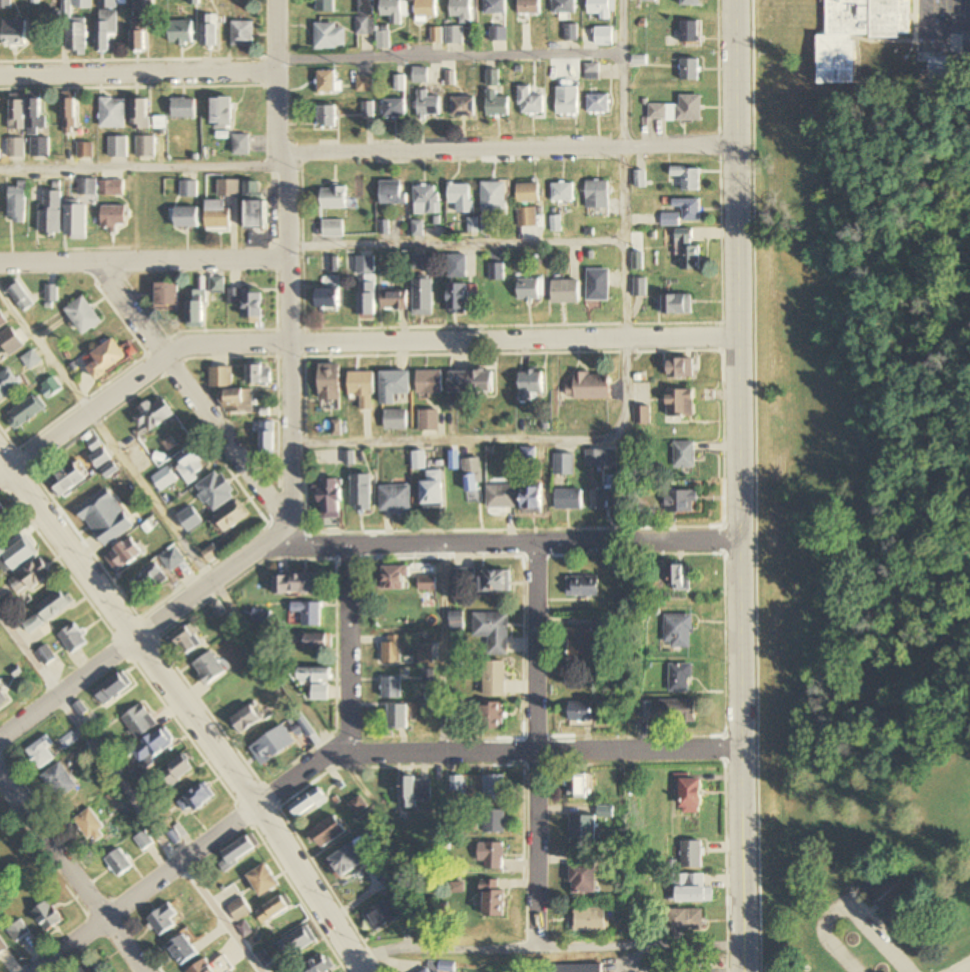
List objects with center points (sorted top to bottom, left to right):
building: (194, 1)
building: (690, 3)
building: (5, 4)
building: (108, 4)
building: (75, 6)
building: (325, 6)
building: (495, 7)
building: (529, 7)
building: (564, 7)
building: (427, 8)
building: (599, 9)
building: (394, 10)
building: (462, 10)
building: (365, 17)
building: (141, 26)
building: (106, 31)
building: (210, 31)
building: (14, 33)
building: (181, 33)
building: (571, 33)
building: (689, 33)
building: (242, 34)
building: (857, 34)
building: (454, 35)
building: (330, 37)
building: (603, 37)
building: (76, 39)
building: (382, 40)
road: (475, 56)
building: (689, 70)
building: (591, 72)
road: (138, 74)
building: (420, 75)
building: (328, 83)
building: (400, 83)
building: (364, 84)
building: (567, 100)
building: (530, 103)
building: (598, 104)
building: (497, 105)
building: (428, 106)
building: (463, 107)
building: (394, 108)
building: (183, 109)
building: (367, 110)
building: (677, 110)
building: (17, 112)
building: (69, 112)
building: (221, 113)
building: (113, 114)
building: (35, 115)
building: (141, 115)
building: (326, 117)
building: (241, 145)
building: (145, 147)
road: (506, 147)
building: (16, 148)
building: (40, 148)
building: (118, 148)
building: (85, 151)
road: (140, 169)
building: (688, 177)
building: (87, 187)
building: (111, 188)
building: (228, 188)
building: (189, 190)
building: (392, 192)
building: (563, 192)
building: (529, 193)
building: (598, 194)
building: (462, 197)
building: (494, 197)
building: (333, 198)
building: (427, 200)
building: (17, 204)
building: (688, 208)
building: (51, 213)
building: (256, 216)
building: (114, 217)
building: (186, 217)
building: (527, 218)
building: (218, 219)
building: (670, 219)
building: (76, 220)
building: (332, 229)
road: (547, 240)
building: (687, 252)
road: (142, 260)
building: (415, 261)
building: (456, 266)
building: (497, 272)
road: (285, 274)
building: (216, 285)
building: (366, 285)
building: (599, 285)
building: (640, 287)
road: (627, 288)
building: (531, 290)
building: (566, 292)
building: (51, 293)
building: (167, 293)
building: (21, 296)
building: (422, 297)
building: (328, 299)
building: (393, 300)
building: (458, 300)
building: (248, 302)
building: (678, 305)
building: (196, 307)
building: (83, 315)
building: (2, 320)
road: (348, 340)
building: (10, 341)
building: (106, 358)
building: (30, 359)
building: (682, 367)
building: (259, 373)
building: (220, 376)
building: (330, 381)
building: (429, 381)
building: (472, 381)
building: (7, 383)
building: (394, 385)
building: (531, 385)
building: (51, 386)
building: (590, 386)
building: (362, 387)
road: (190, 391)
building: (239, 399)
building: (681, 402)
building: (24, 412)
building: (642, 414)
building: (152, 416)
building: (396, 419)
building: (429, 420)
building: (268, 437)
road: (501, 442)
building: (684, 454)
building: (100, 457)
building: (595, 457)
building: (564, 463)
building: (192, 466)
building: (164, 478)
building: (67, 479)
building: (473, 480)
road: (740, 485)
building: (216, 490)
building: (433, 490)
building: (361, 492)
building: (605, 494)
building: (502, 497)
building: (330, 498)
building: (395, 498)
building: (533, 498)
building: (570, 499)
building: (681, 501)
building: (4, 512)
building: (232, 515)
building: (105, 517)
building: (190, 518)
road: (166, 519)
road: (338, 542)
building: (123, 554)
building: (15, 555)
building: (173, 558)
building: (31, 575)
building: (394, 578)
building: (463, 578)
building: (147, 580)
building: (496, 581)
building: (681, 581)
building: (299, 583)
building: (427, 584)
building: (582, 586)
building: (55, 604)
building: (308, 613)
building: (456, 621)
building: (493, 631)
building: (678, 631)
building: (72, 638)
building: (586, 638)
building: (185, 641)
building: (310, 642)
road: (346, 647)
road: (445, 648)
building: (391, 650)
building: (45, 653)
building: (426, 654)
building: (209, 669)
building: (315, 675)
building: (680, 677)
building: (495, 678)
building: (113, 688)
building: (391, 688)
building: (319, 693)
building: (2, 698)
building: (645, 709)
road: (187, 710)
building: (678, 711)
building: (581, 712)
building: (494, 716)
building: (398, 717)
building: (247, 718)
building: (139, 721)
building: (272, 745)
road: (533, 746)
building: (153, 747)
road: (347, 751)
building: (40, 753)
building: (177, 771)
building: (59, 781)
building: (577, 785)
building: (494, 788)
building: (415, 791)
road: (131, 792)
building: (689, 793)
building: (197, 798)
building: (308, 802)
building: (358, 805)
building: (494, 820)
building: (90, 826)
building: (583, 827)
building: (329, 831)
building: (239, 851)
building: (492, 854)
building: (691, 854)
building: (348, 859)
building: (118, 862)
park: (866, 873)
building: (390, 878)
building: (583, 878)
road: (68, 879)
building: (263, 879)
building: (692, 889)
building: (894, 890)
building: (495, 902)
road: (846, 905)
building: (239, 909)
building: (272, 909)
building: (384, 914)
building: (46, 916)
building: (591, 920)
building: (685, 920)
building: (161, 921)
building: (17, 930)
building: (297, 941)
building: (2, 946)
road: (543, 947)
building: (182, 949)
building: (317, 964)
building: (212, 966)
road: (960, 966)
building: (89, 968)
building: (573, 968)
building: (428, 970)

